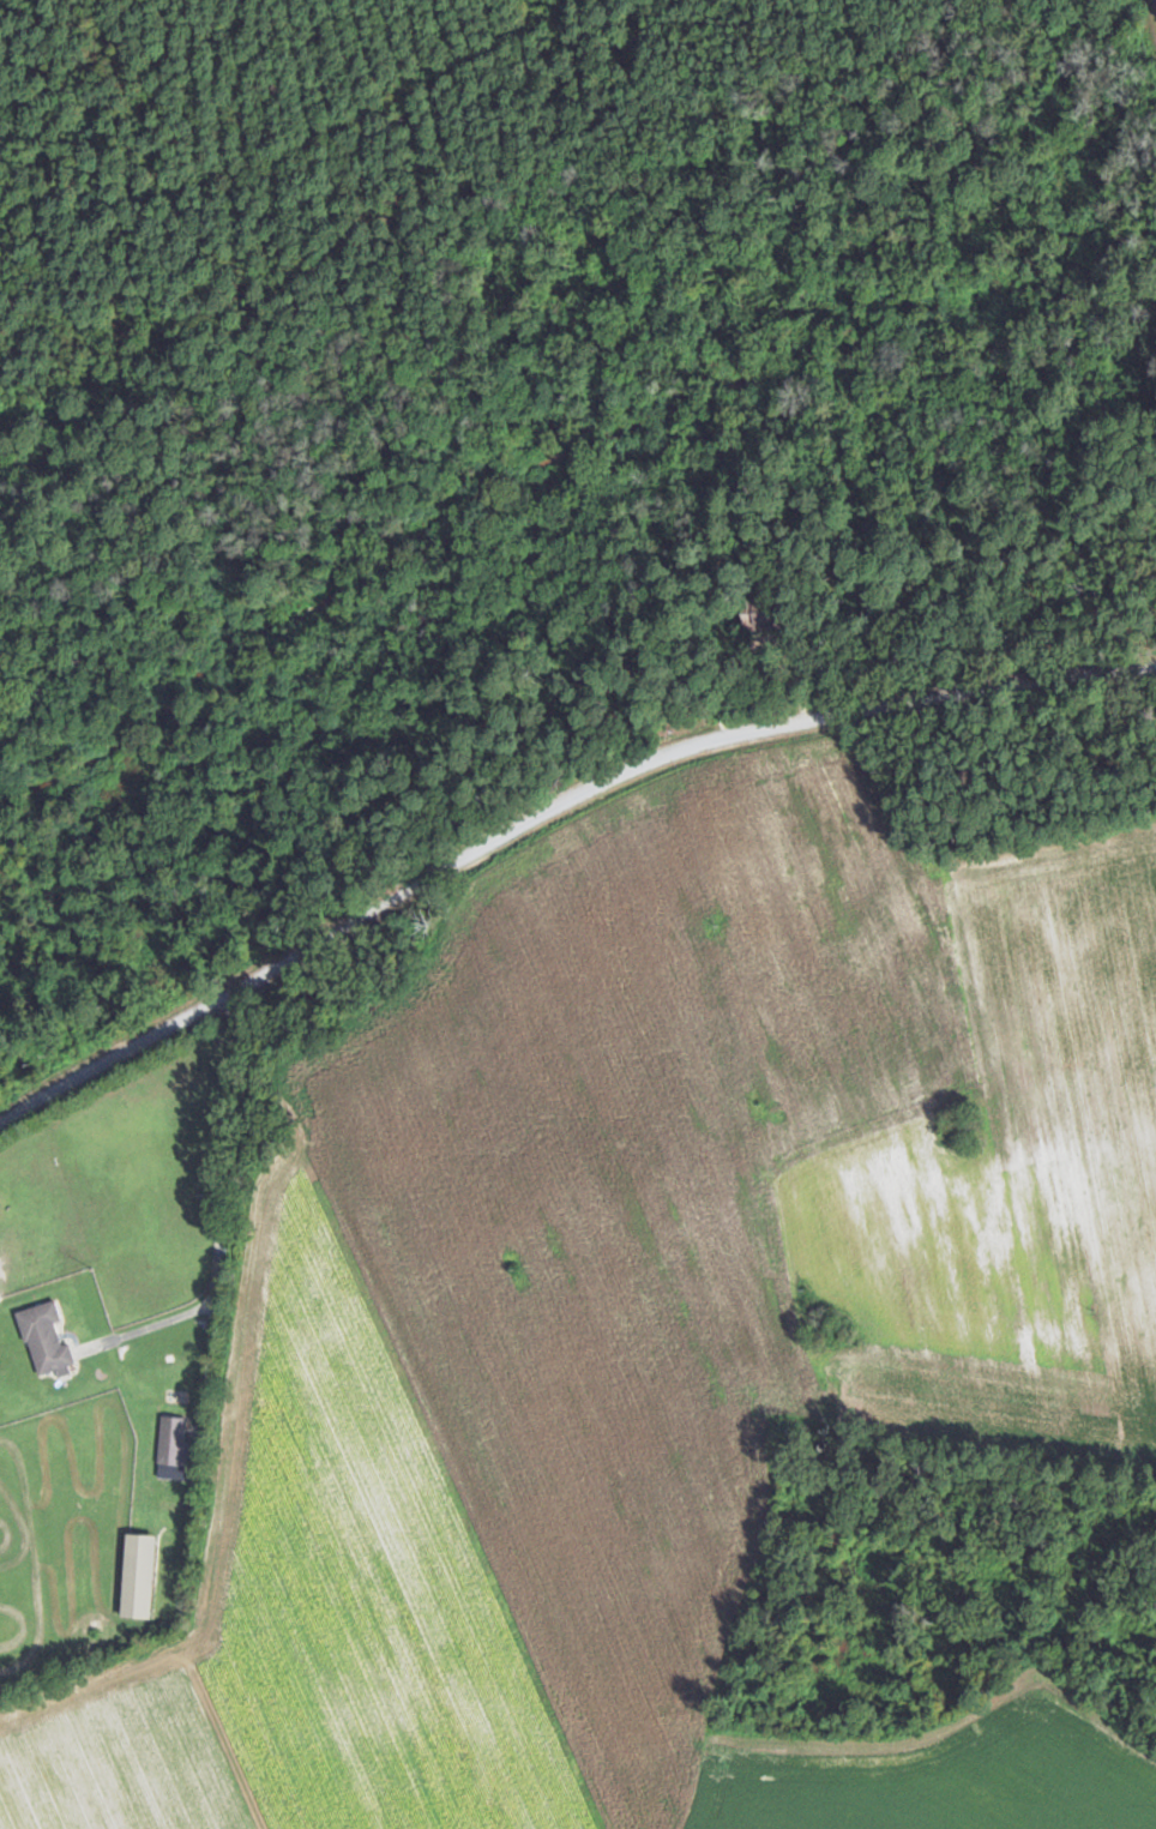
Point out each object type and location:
building: (771, 615)
road: (549, 816)
building: (47, 1338)
building: (175, 1448)
building: (142, 1575)

